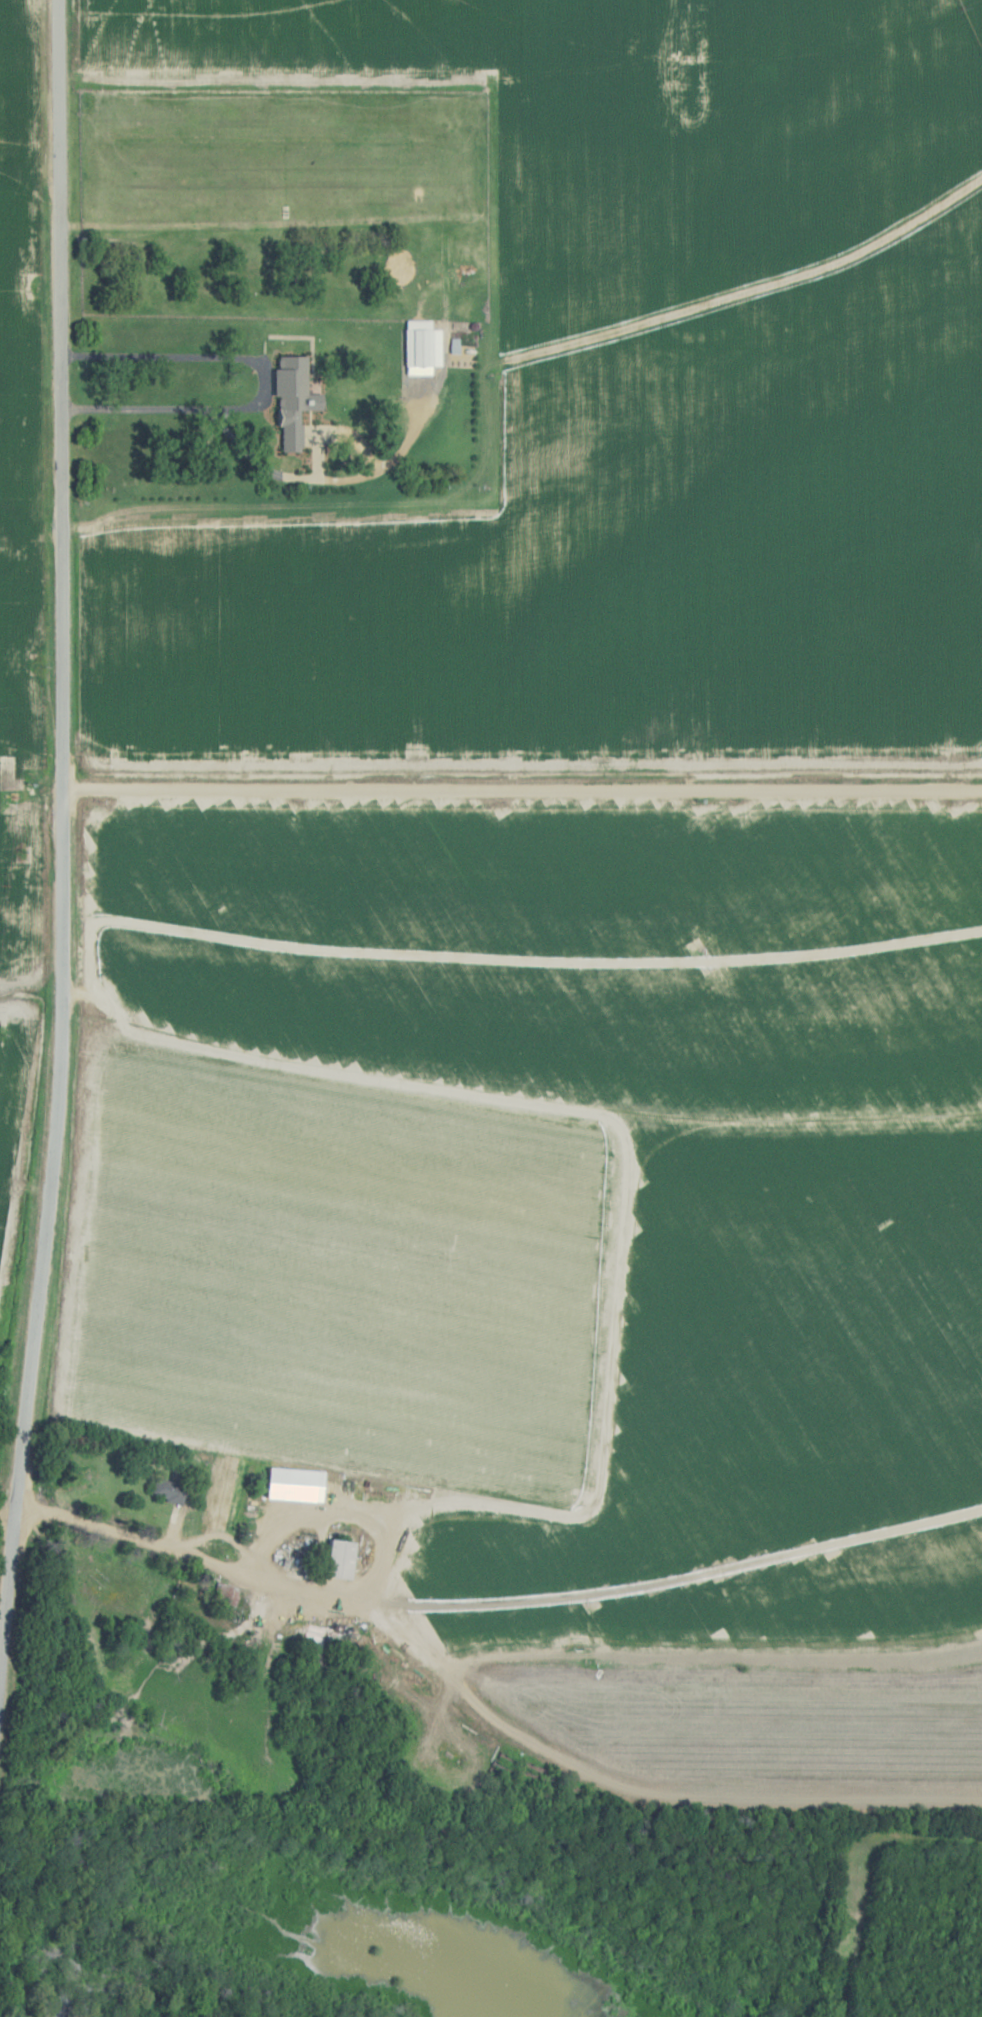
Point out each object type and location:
building: (290, 401)
road: (155, 410)
road: (522, 784)
road: (62, 802)
building: (167, 1490)
building: (226, 1518)
building: (340, 1558)
building: (234, 1598)
road: (489, 1605)
road: (649, 1798)

